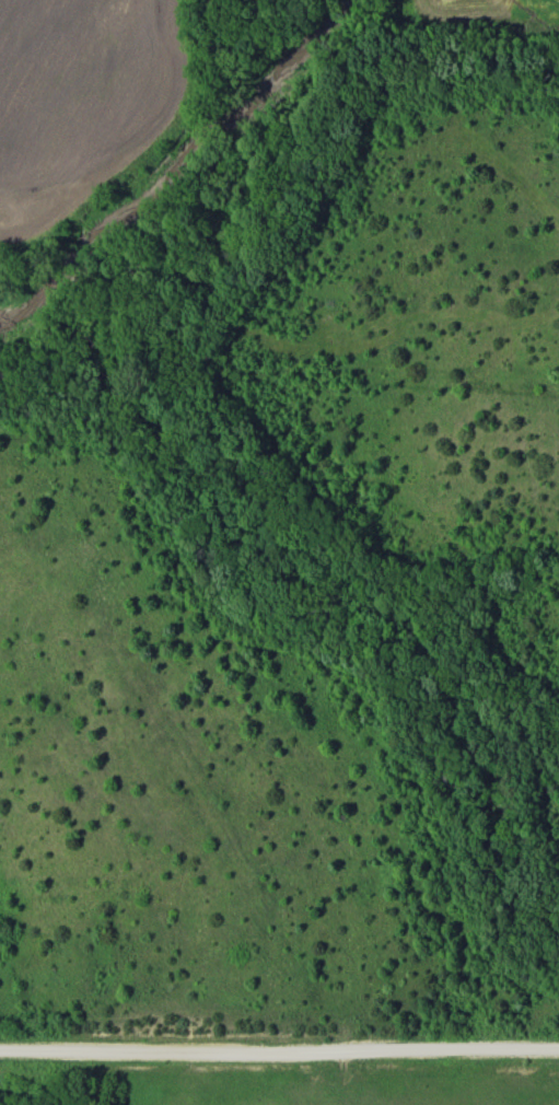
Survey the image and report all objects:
road: (279, 1051)

